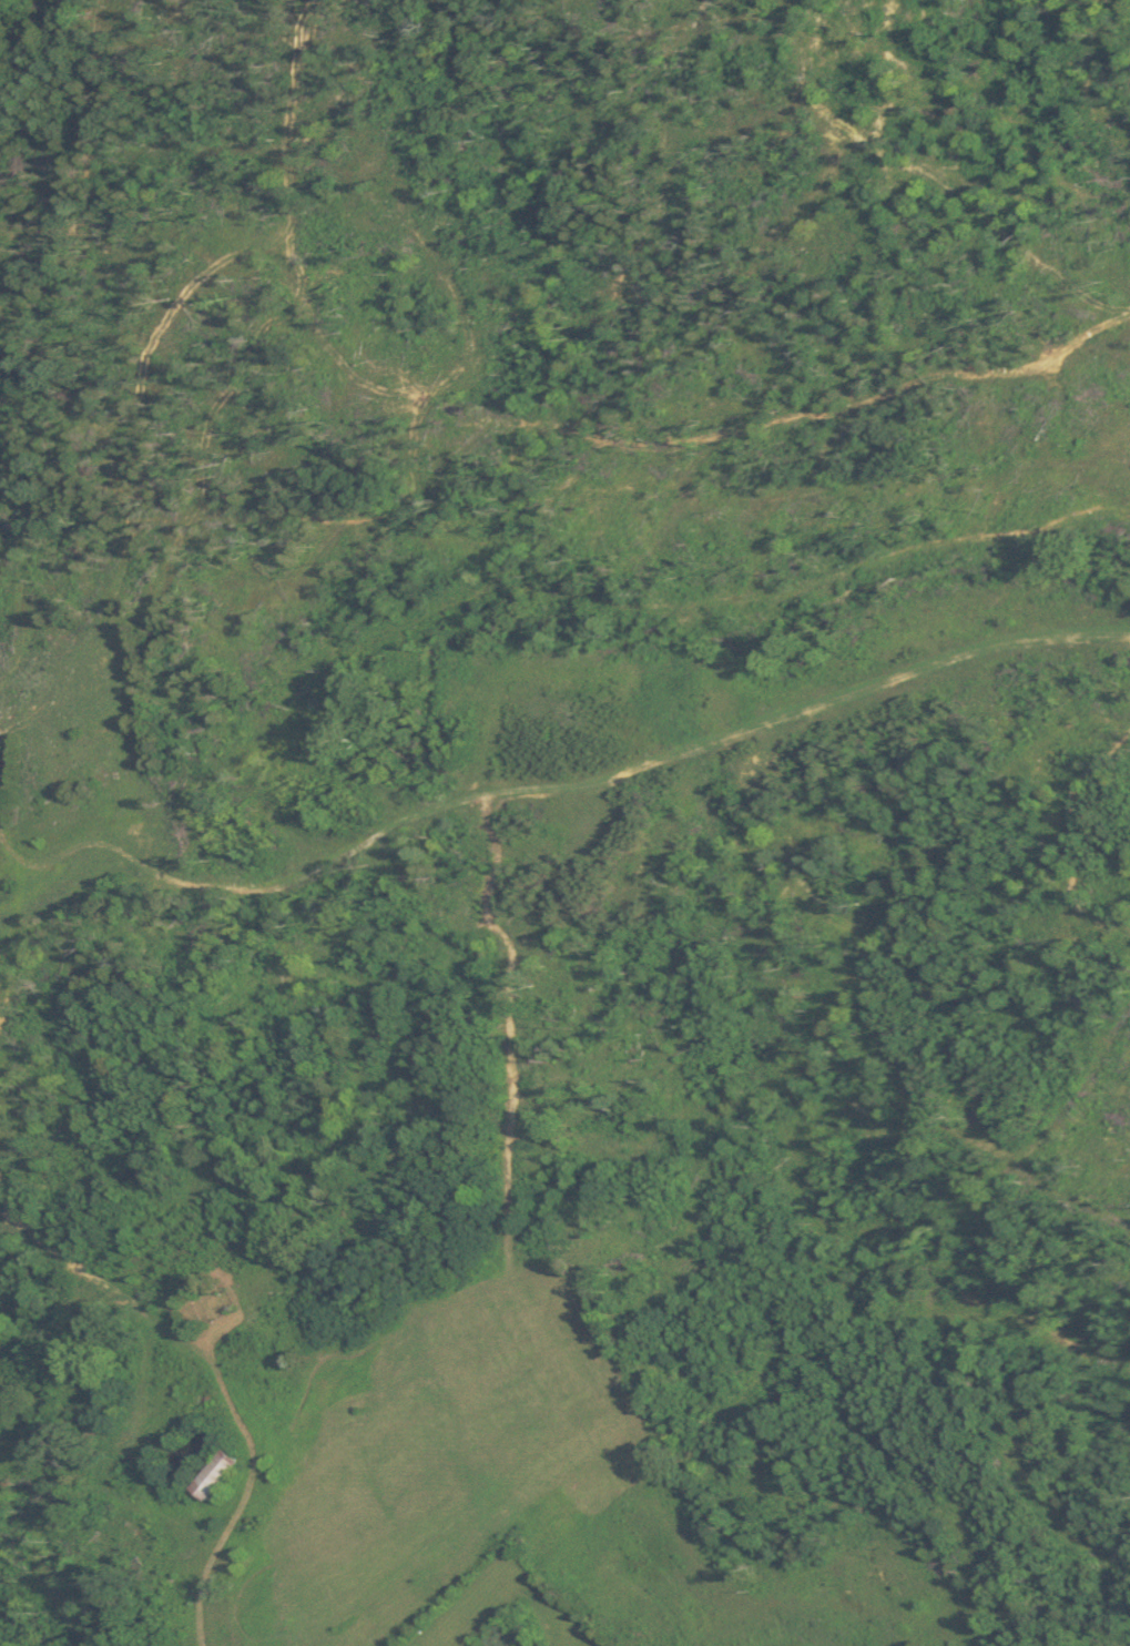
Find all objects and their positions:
building: (208, 1475)
road: (248, 1502)

